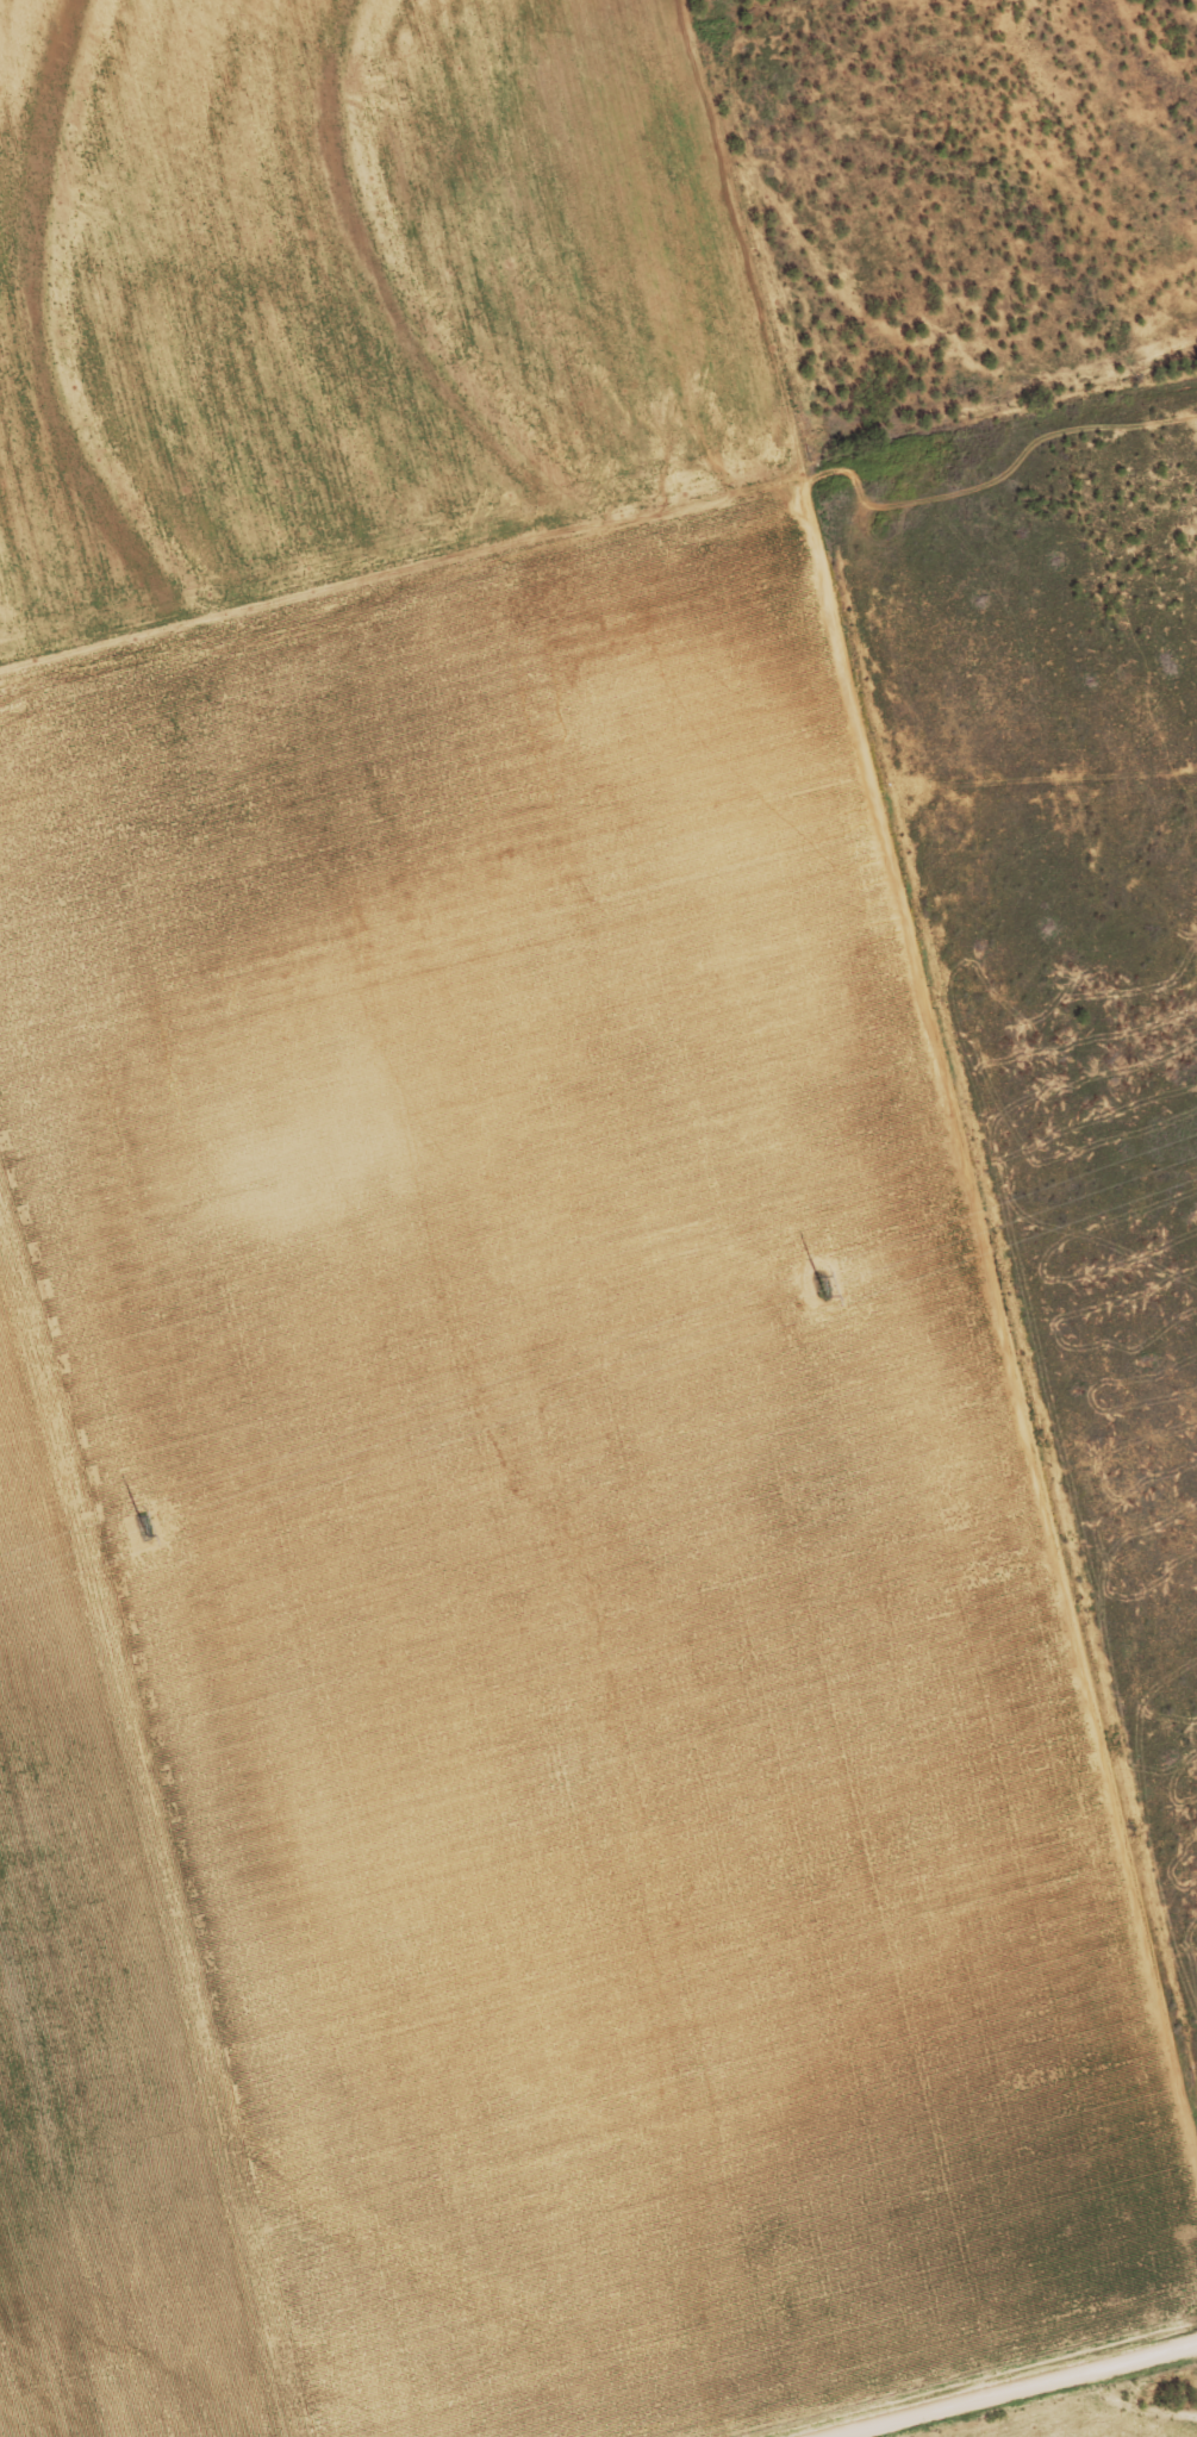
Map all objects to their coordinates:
road: (934, 1115)
power tower: (821, 1285)
power tower: (141, 1525)
road: (1086, 2408)

